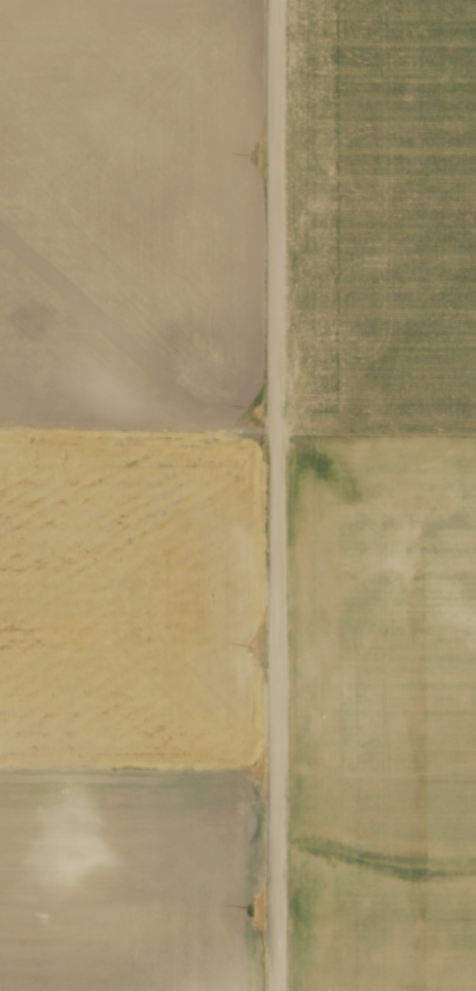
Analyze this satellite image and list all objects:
crop: (385, 494)
road: (276, 495)
crop: (129, 496)

